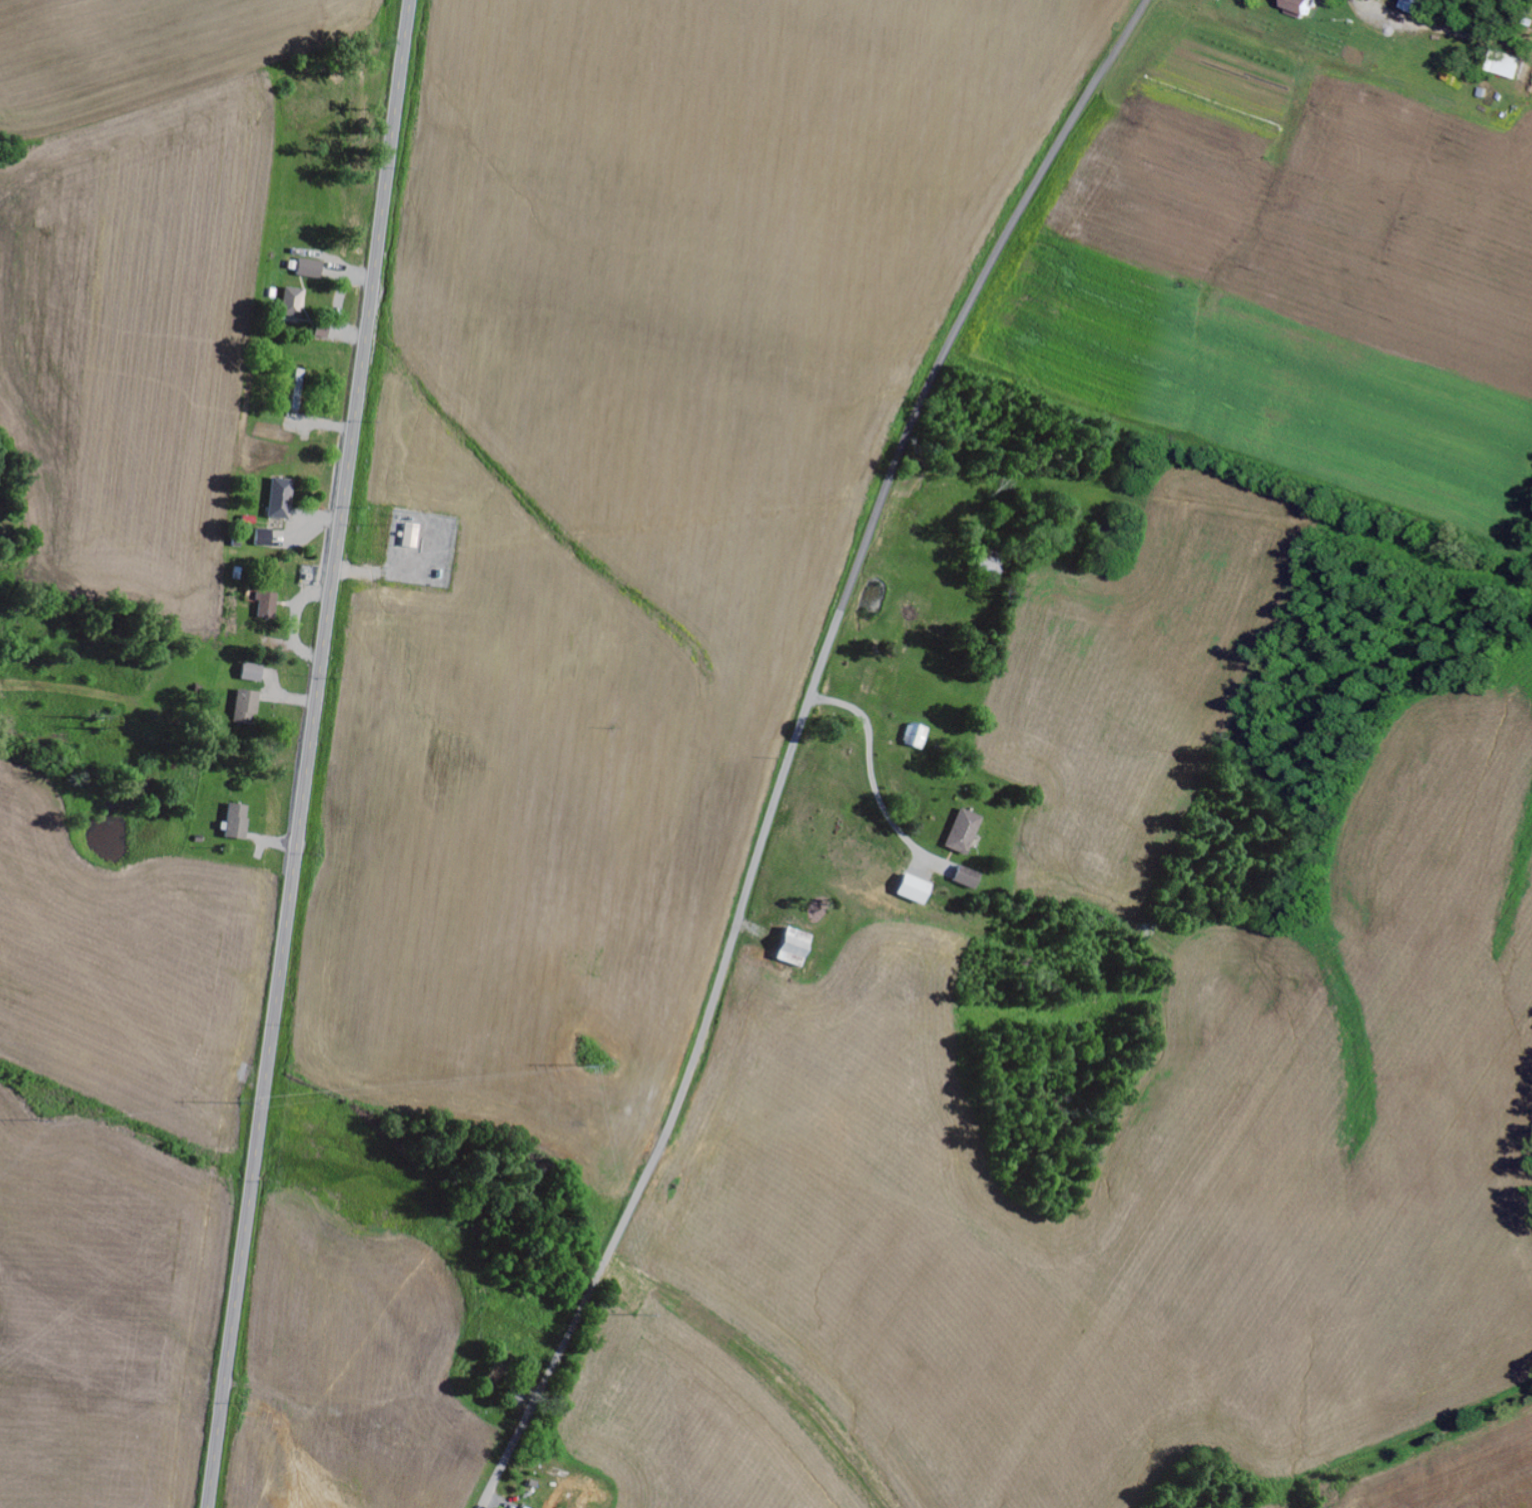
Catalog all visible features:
building: (1418, 7)
building: (1304, 9)
building: (310, 269)
building: (294, 302)
building: (282, 498)
building: (413, 536)
building: (265, 538)
building: (268, 604)
building: (254, 673)
building: (248, 708)
building: (917, 736)
road: (794, 745)
road: (310, 753)
building: (238, 822)
building: (965, 832)
building: (967, 878)
building: (916, 890)
building: (796, 948)

